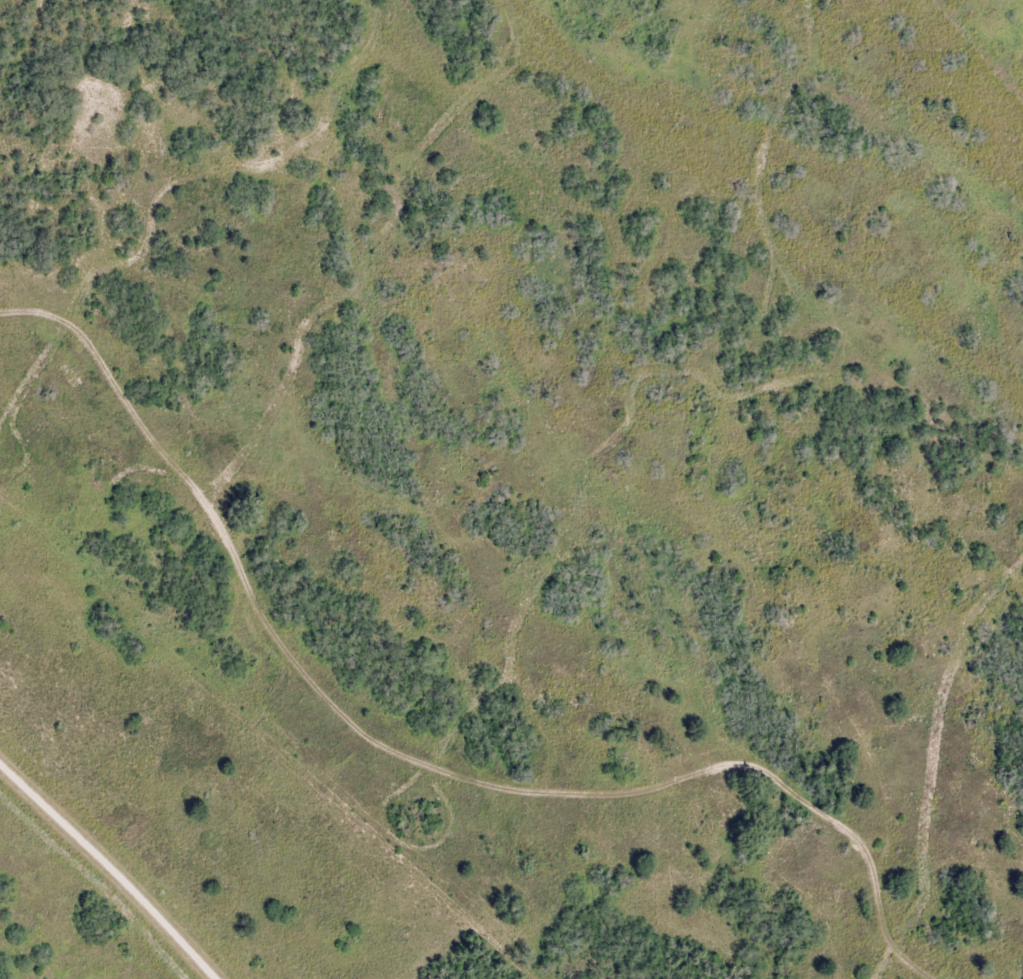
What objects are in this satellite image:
road: (109, 862)

